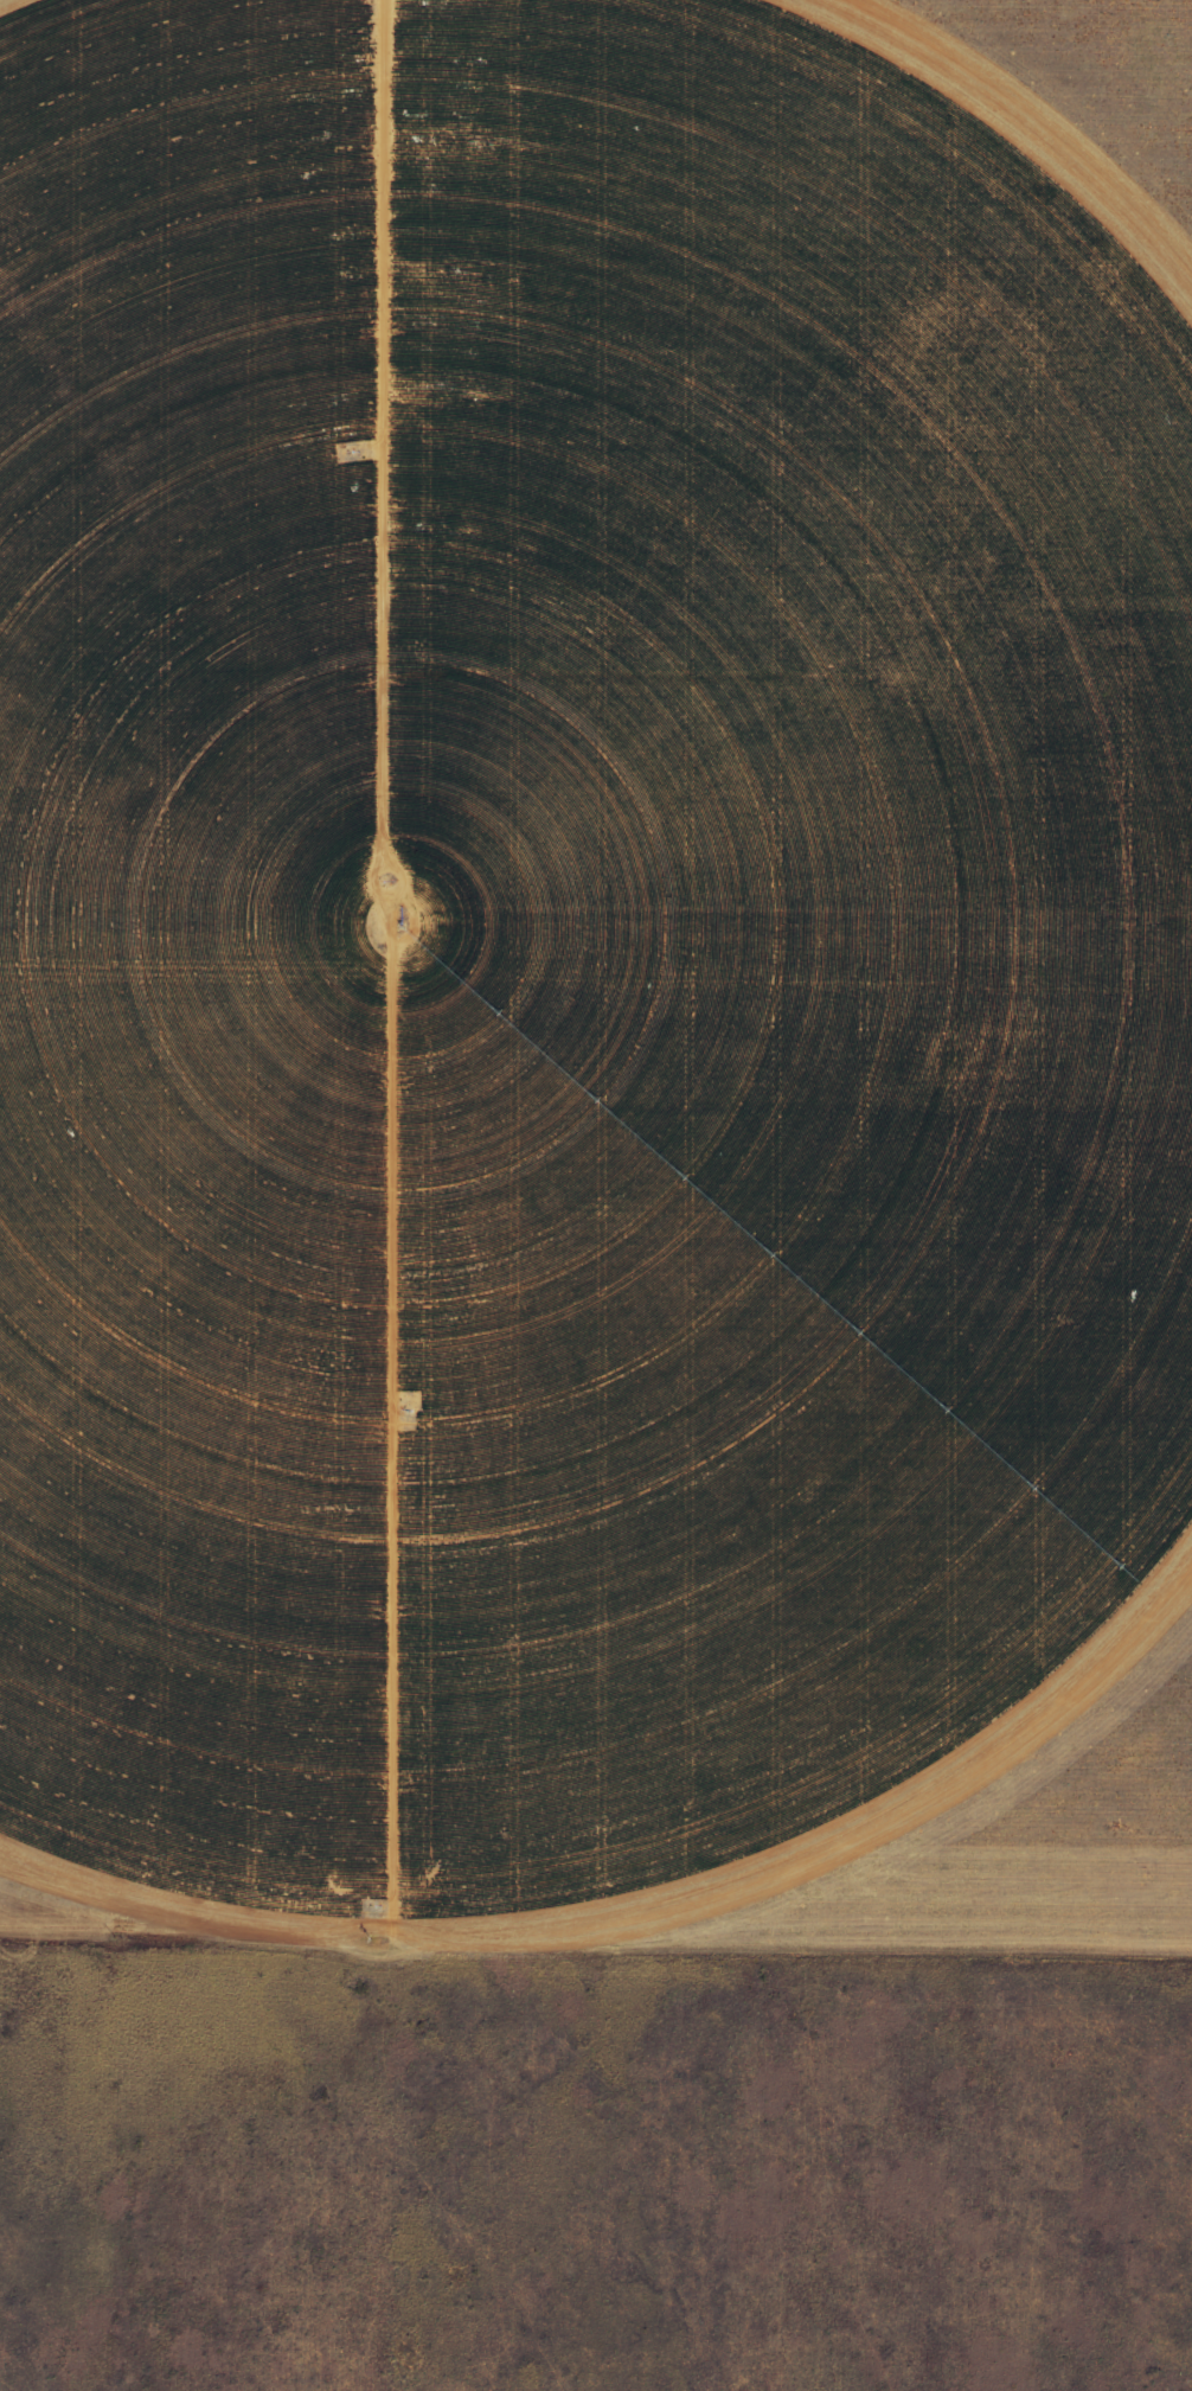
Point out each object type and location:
road: (595, 1951)

